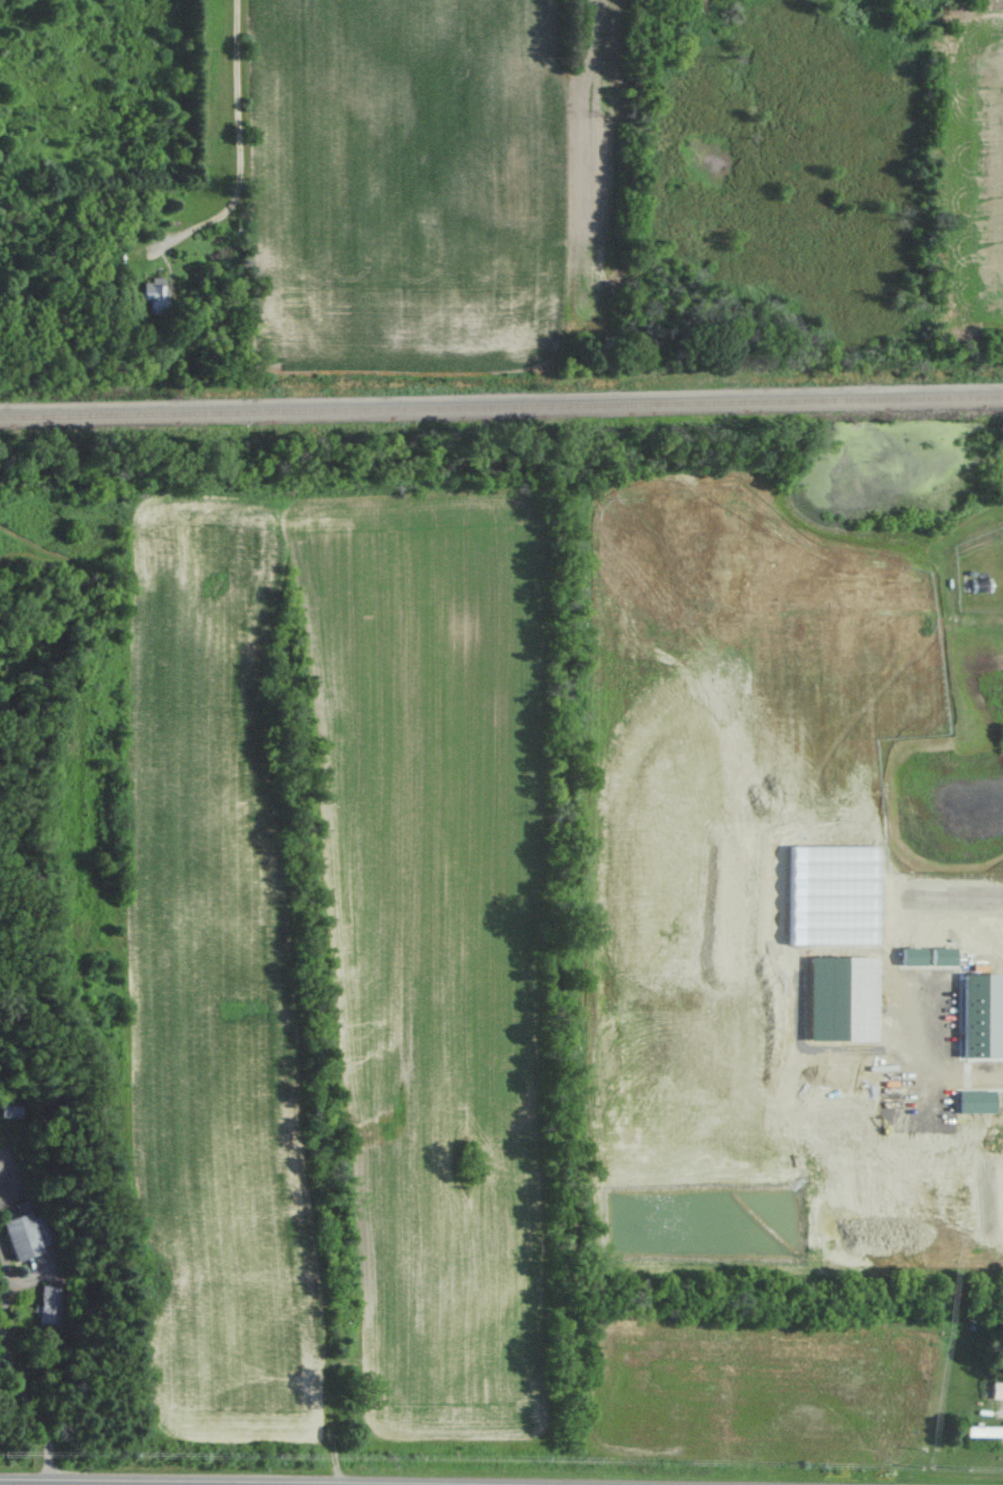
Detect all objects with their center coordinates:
road: (226, 132)
railway: (501, 402)
road: (968, 1072)
building: (13, 1110)
building: (26, 1234)
road: (2, 1278)
building: (47, 1303)
building: (994, 1389)
road: (33, 1411)
building: (981, 1430)

